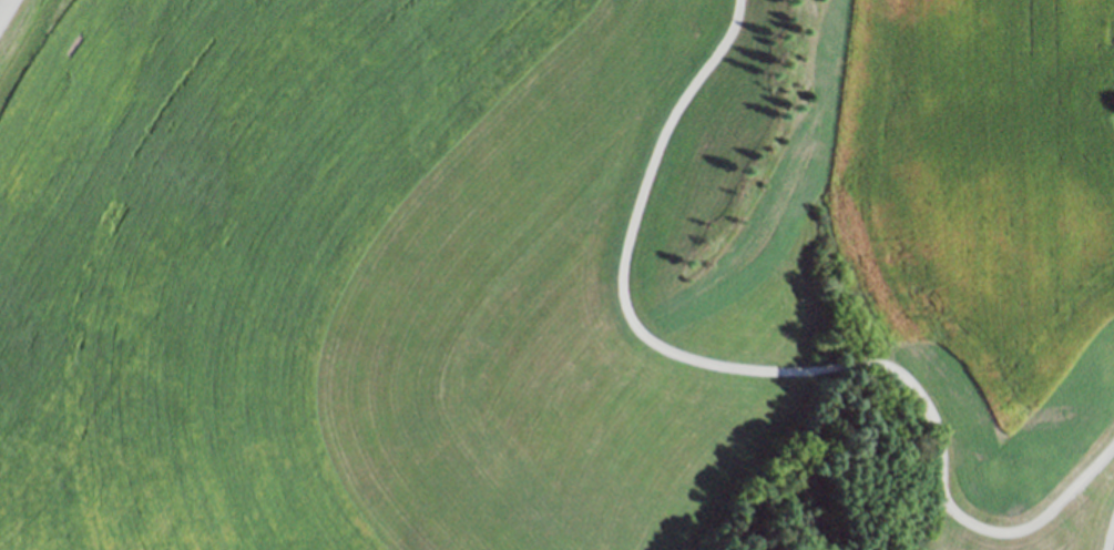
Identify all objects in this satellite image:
road: (765, 359)
road: (1110, 528)

